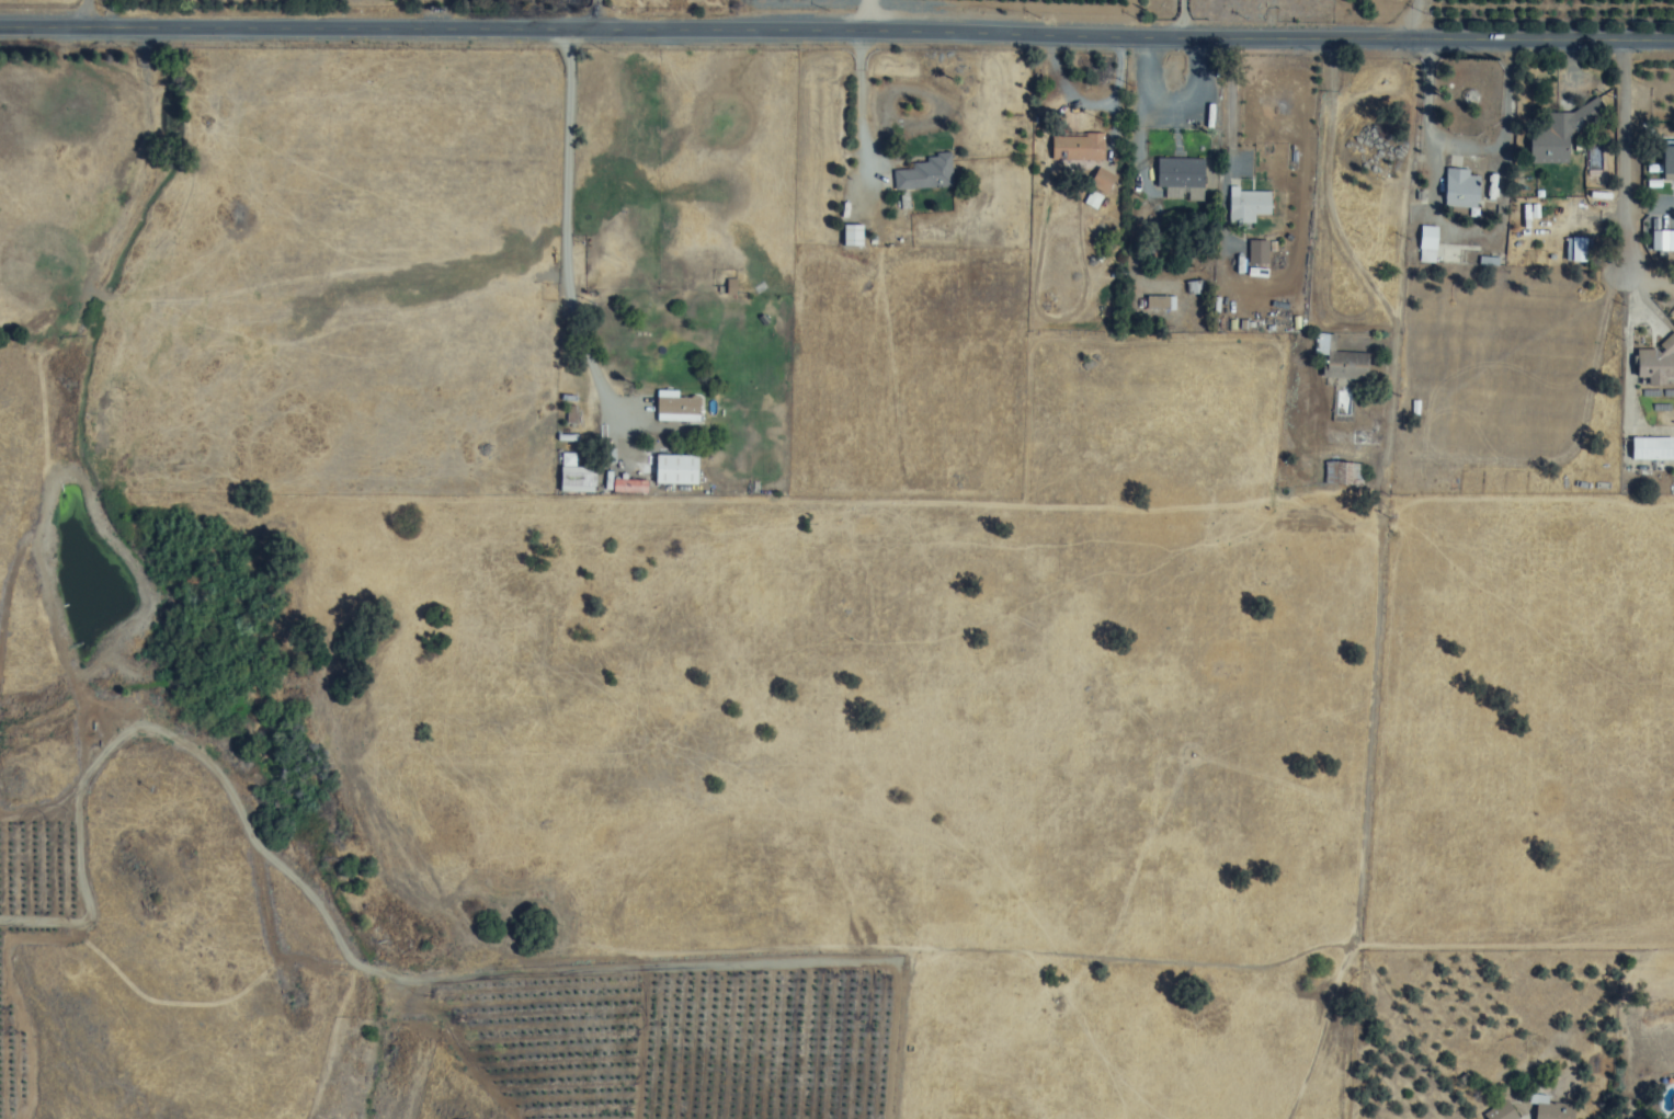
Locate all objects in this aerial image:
crop: (326, 3)
road: (596, 15)
road: (84, 16)
road: (916, 22)
road: (1415, 23)
crop: (1551, 23)
road: (836, 42)
road: (1428, 107)
road: (862, 114)
building: (1560, 132)
building: (1077, 147)
road: (1622, 158)
building: (1667, 161)
building: (1180, 173)
building: (925, 174)
building: (1461, 189)
crop: (4, 195)
building: (1248, 206)
building: (852, 236)
building: (1659, 240)
building: (1427, 243)
building: (1575, 249)
building: (1256, 252)
road: (566, 267)
building: (1340, 361)
building: (1654, 364)
building: (675, 407)
building: (1652, 448)
building: (675, 469)
building: (1345, 478)
crop: (31, 928)
crop: (674, 1042)
building: (1501, 1111)

